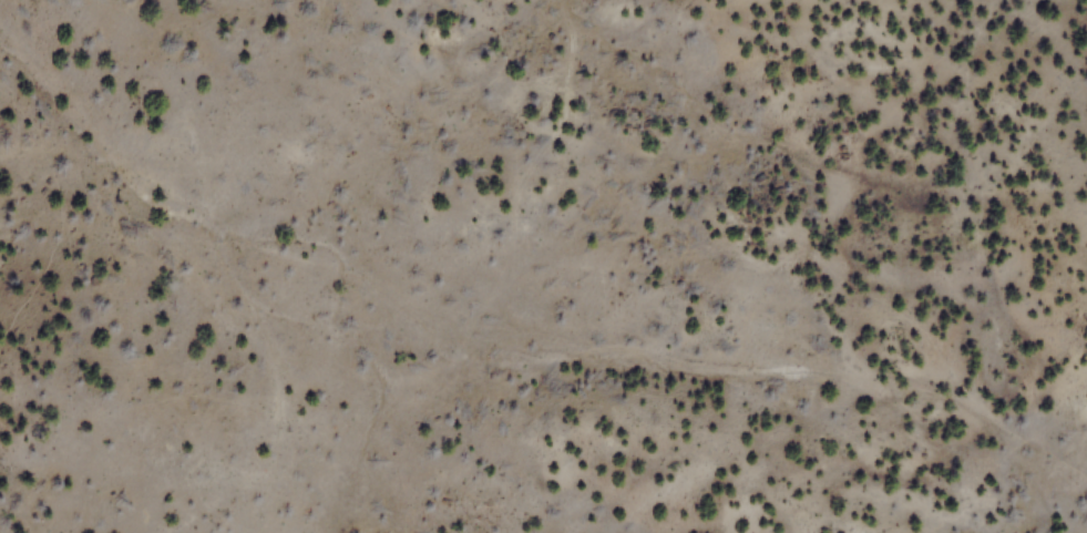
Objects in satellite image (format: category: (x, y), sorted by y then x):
road: (402, 310)

